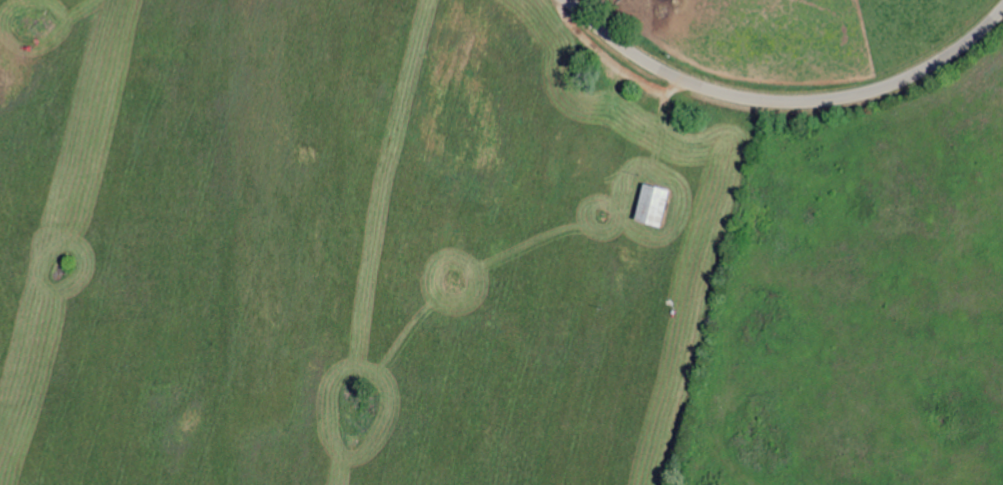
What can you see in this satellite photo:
road: (785, 100)
building: (652, 203)

